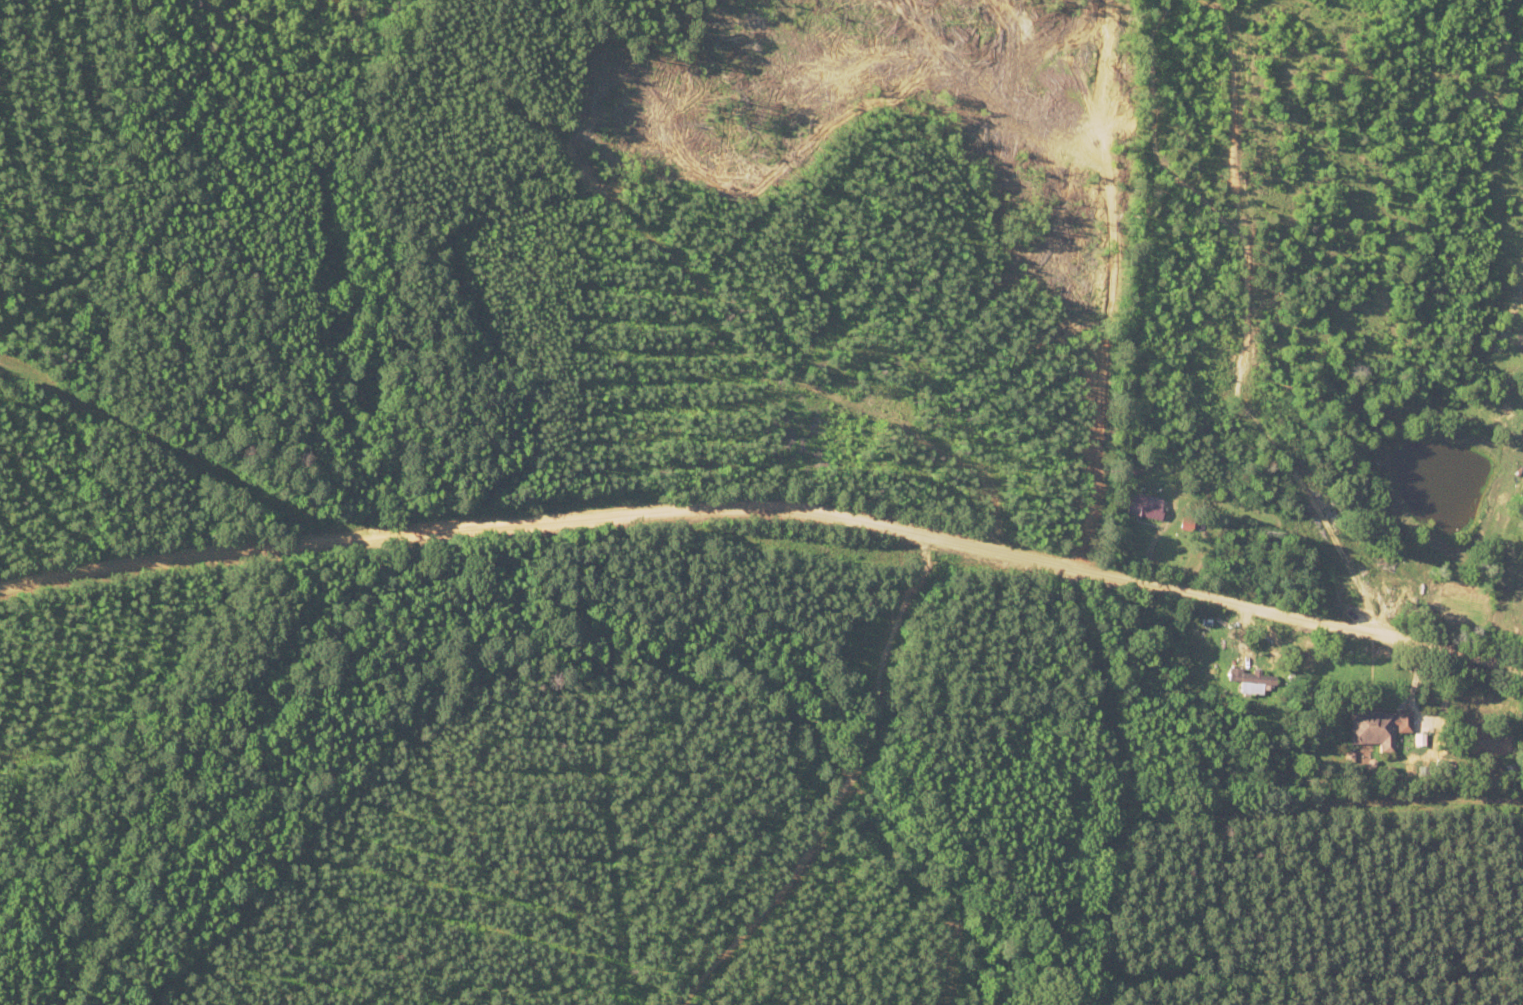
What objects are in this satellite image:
building: (1140, 506)
road: (979, 544)
road: (212, 553)
building: (1250, 681)
building: (1375, 727)

